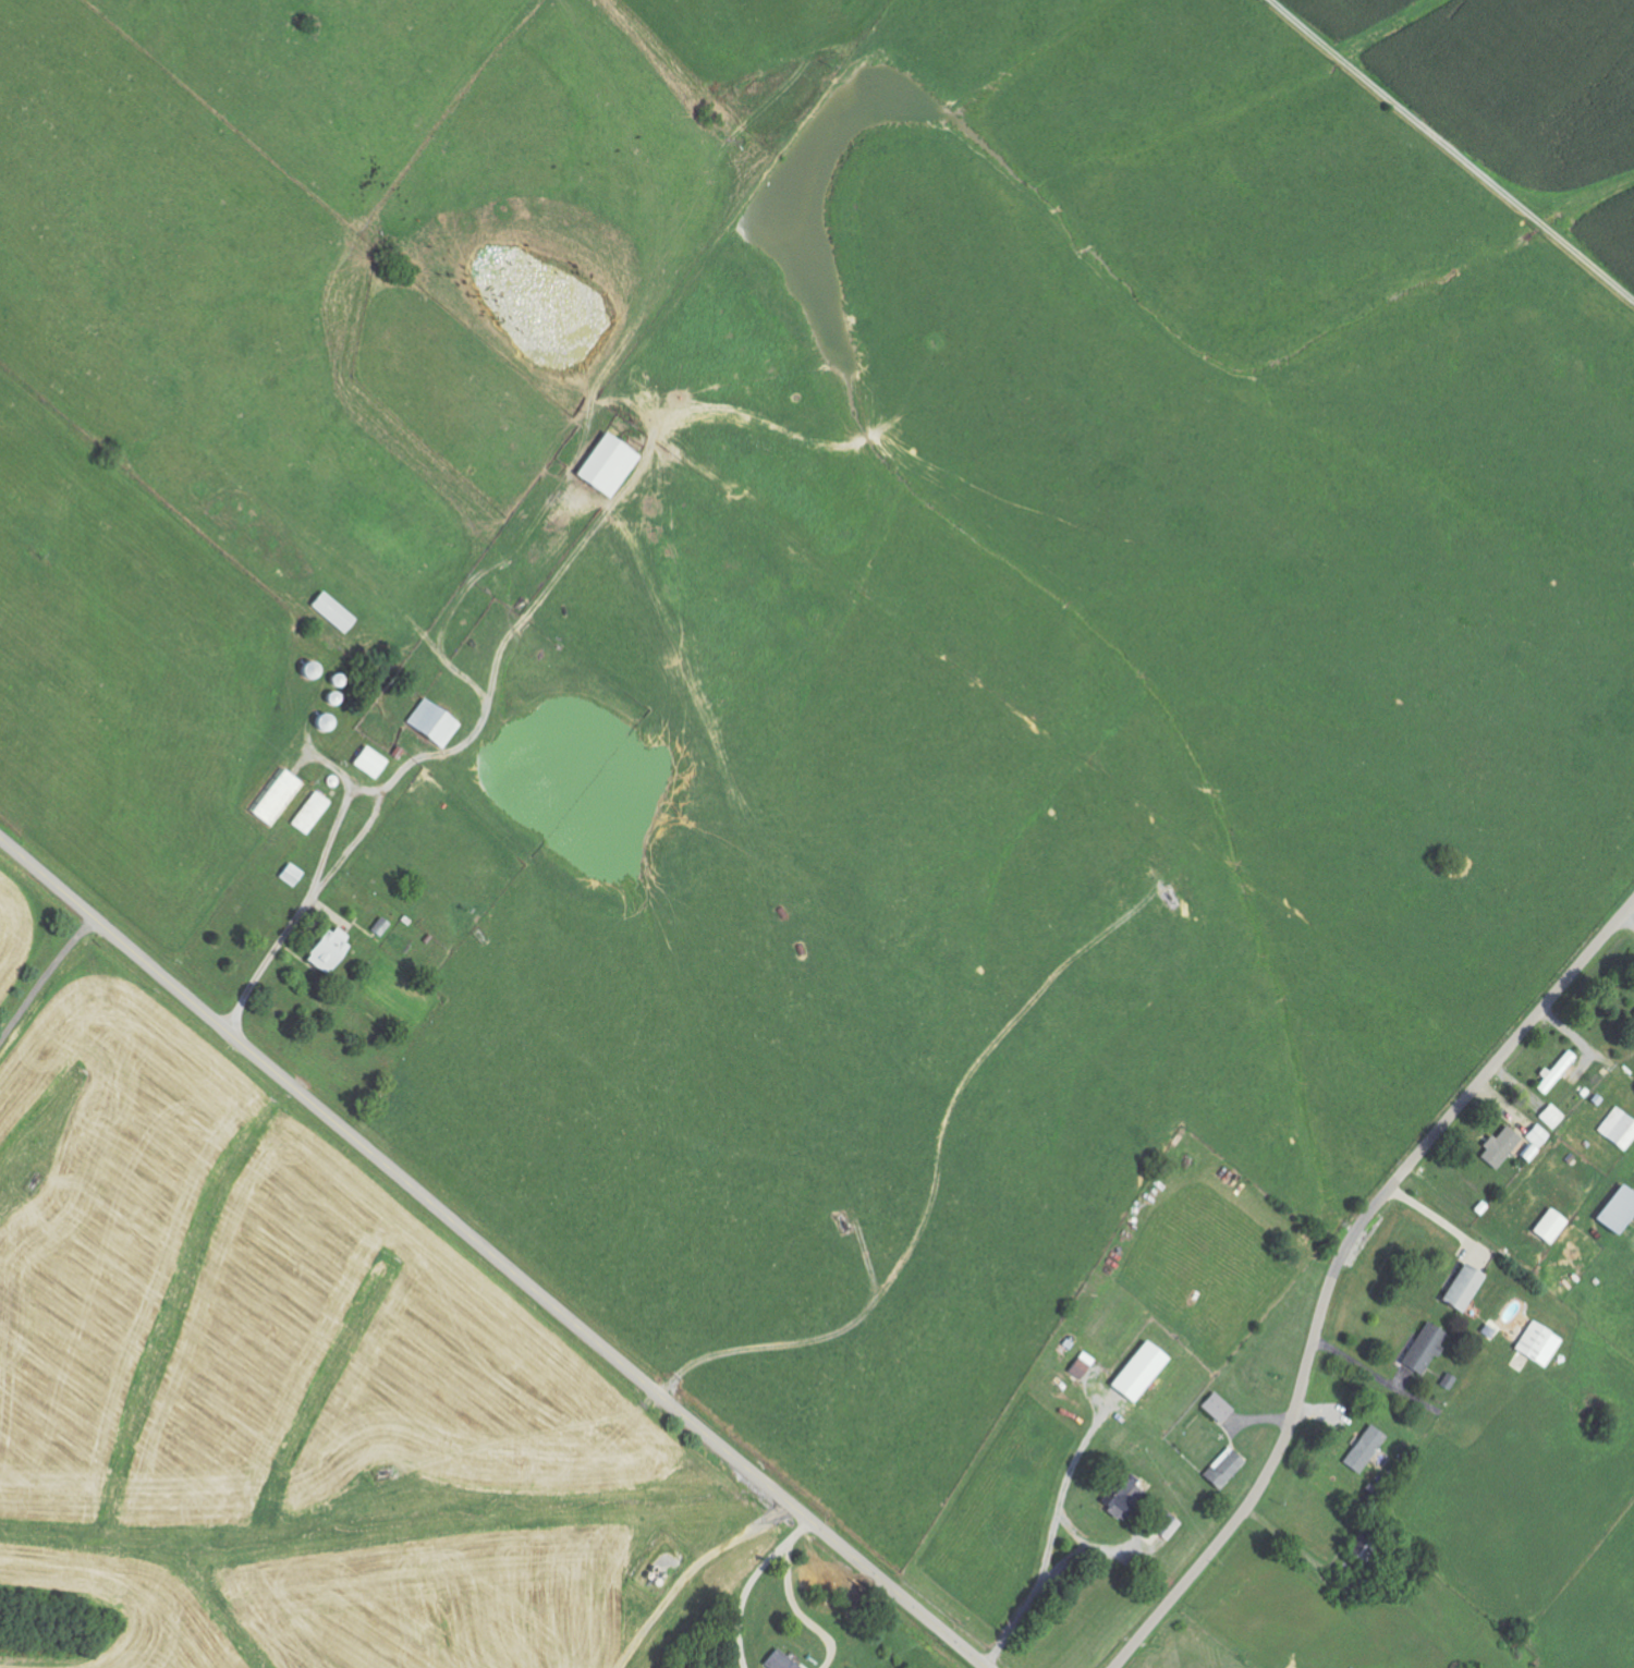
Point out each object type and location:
road: (1464, 144)
building: (610, 466)
building: (334, 612)
building: (435, 721)
building: (373, 763)
building: (278, 795)
road: (344, 859)
building: (332, 950)
road: (45, 979)
building: (1560, 1072)
building: (1554, 1117)
building: (1620, 1129)
building: (1537, 1142)
building: (1504, 1147)
building: (1620, 1213)
building: (1552, 1227)
road: (492, 1254)
road: (1340, 1265)
building: (1467, 1288)
building: (1539, 1344)
building: (1427, 1348)
building: (1082, 1366)
building: (1143, 1372)
building: (1219, 1409)
building: (1366, 1449)
building: (1225, 1469)
building: (1167, 1524)
road: (804, 1525)
building: (1364, 1547)
road: (748, 1592)
road: (794, 1607)
building: (781, 1660)

